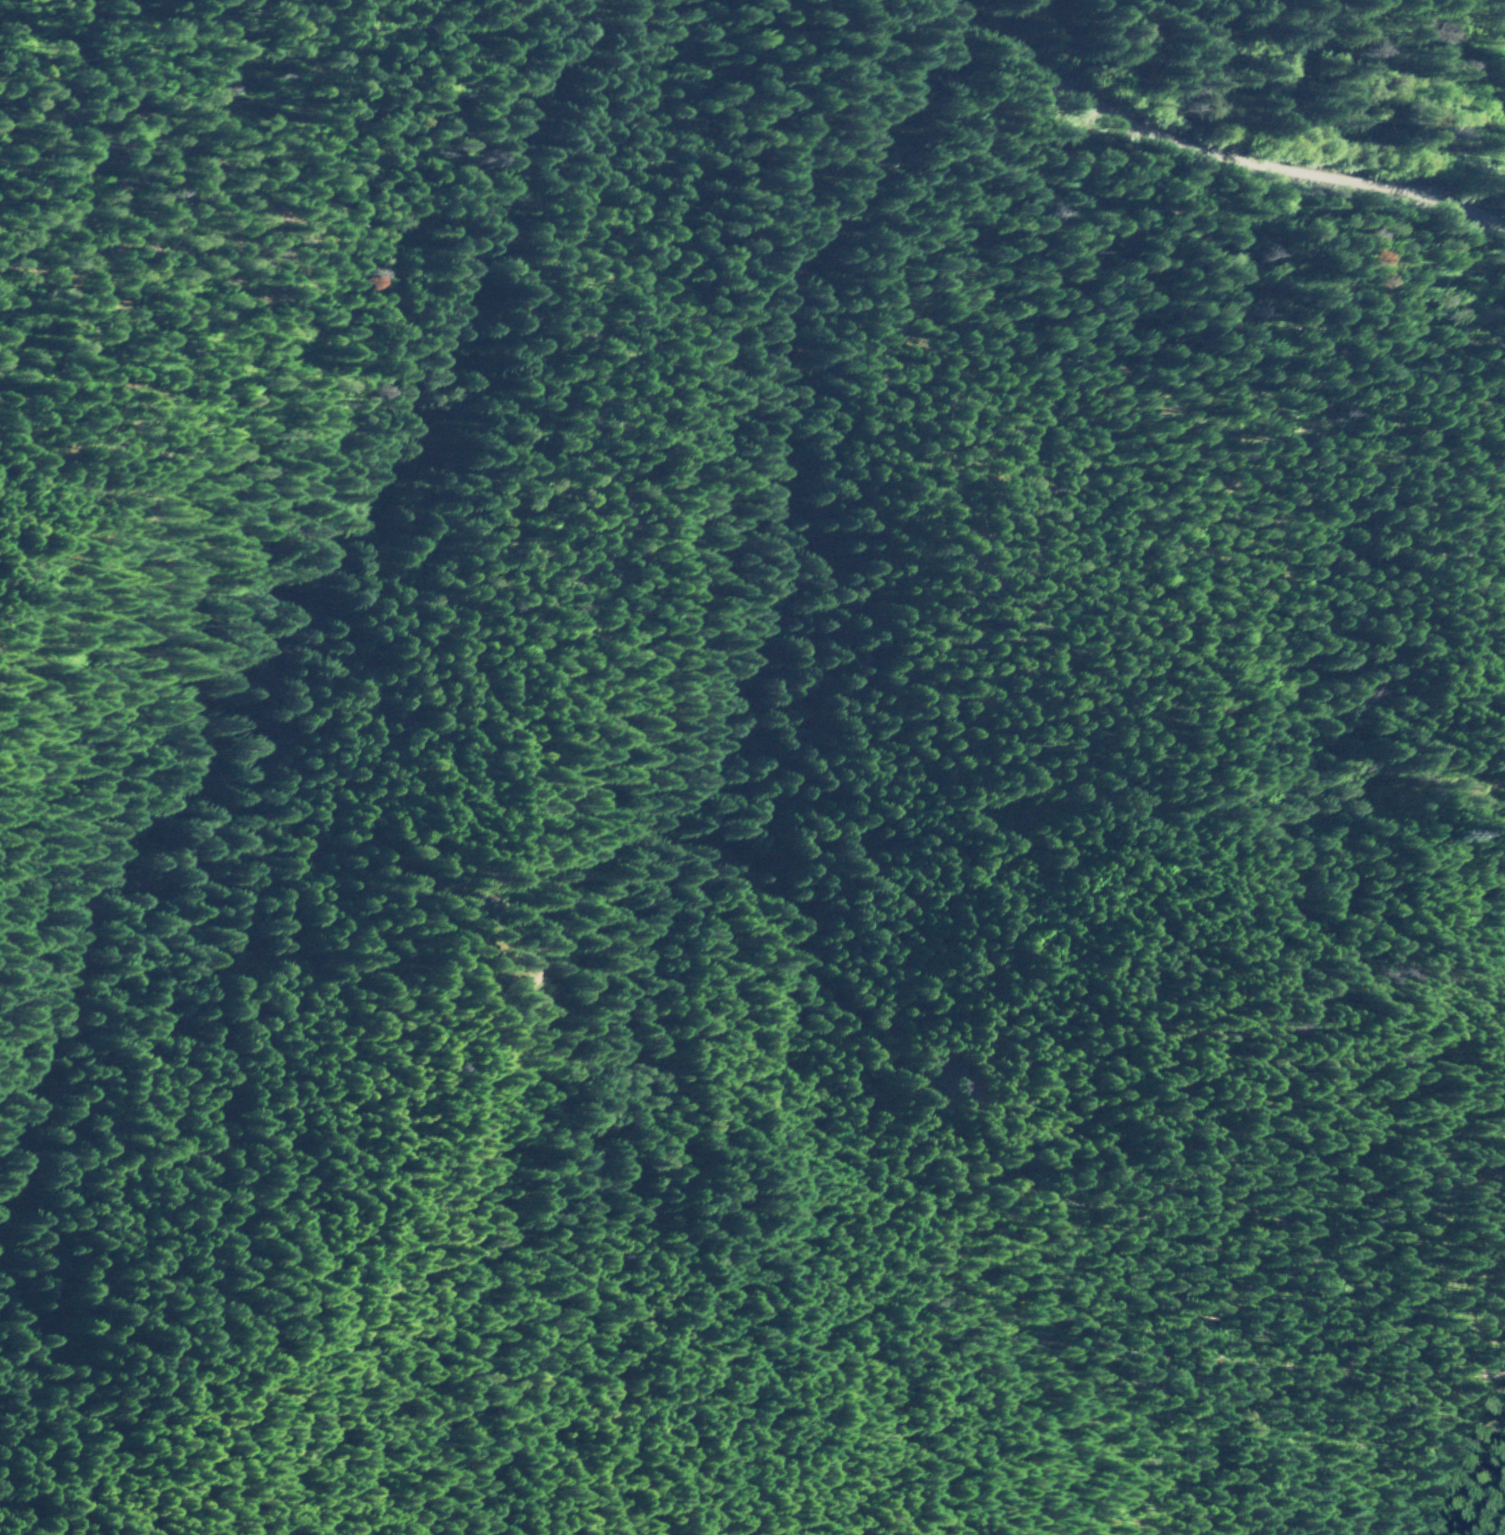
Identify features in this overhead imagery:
road: (1237, 99)

